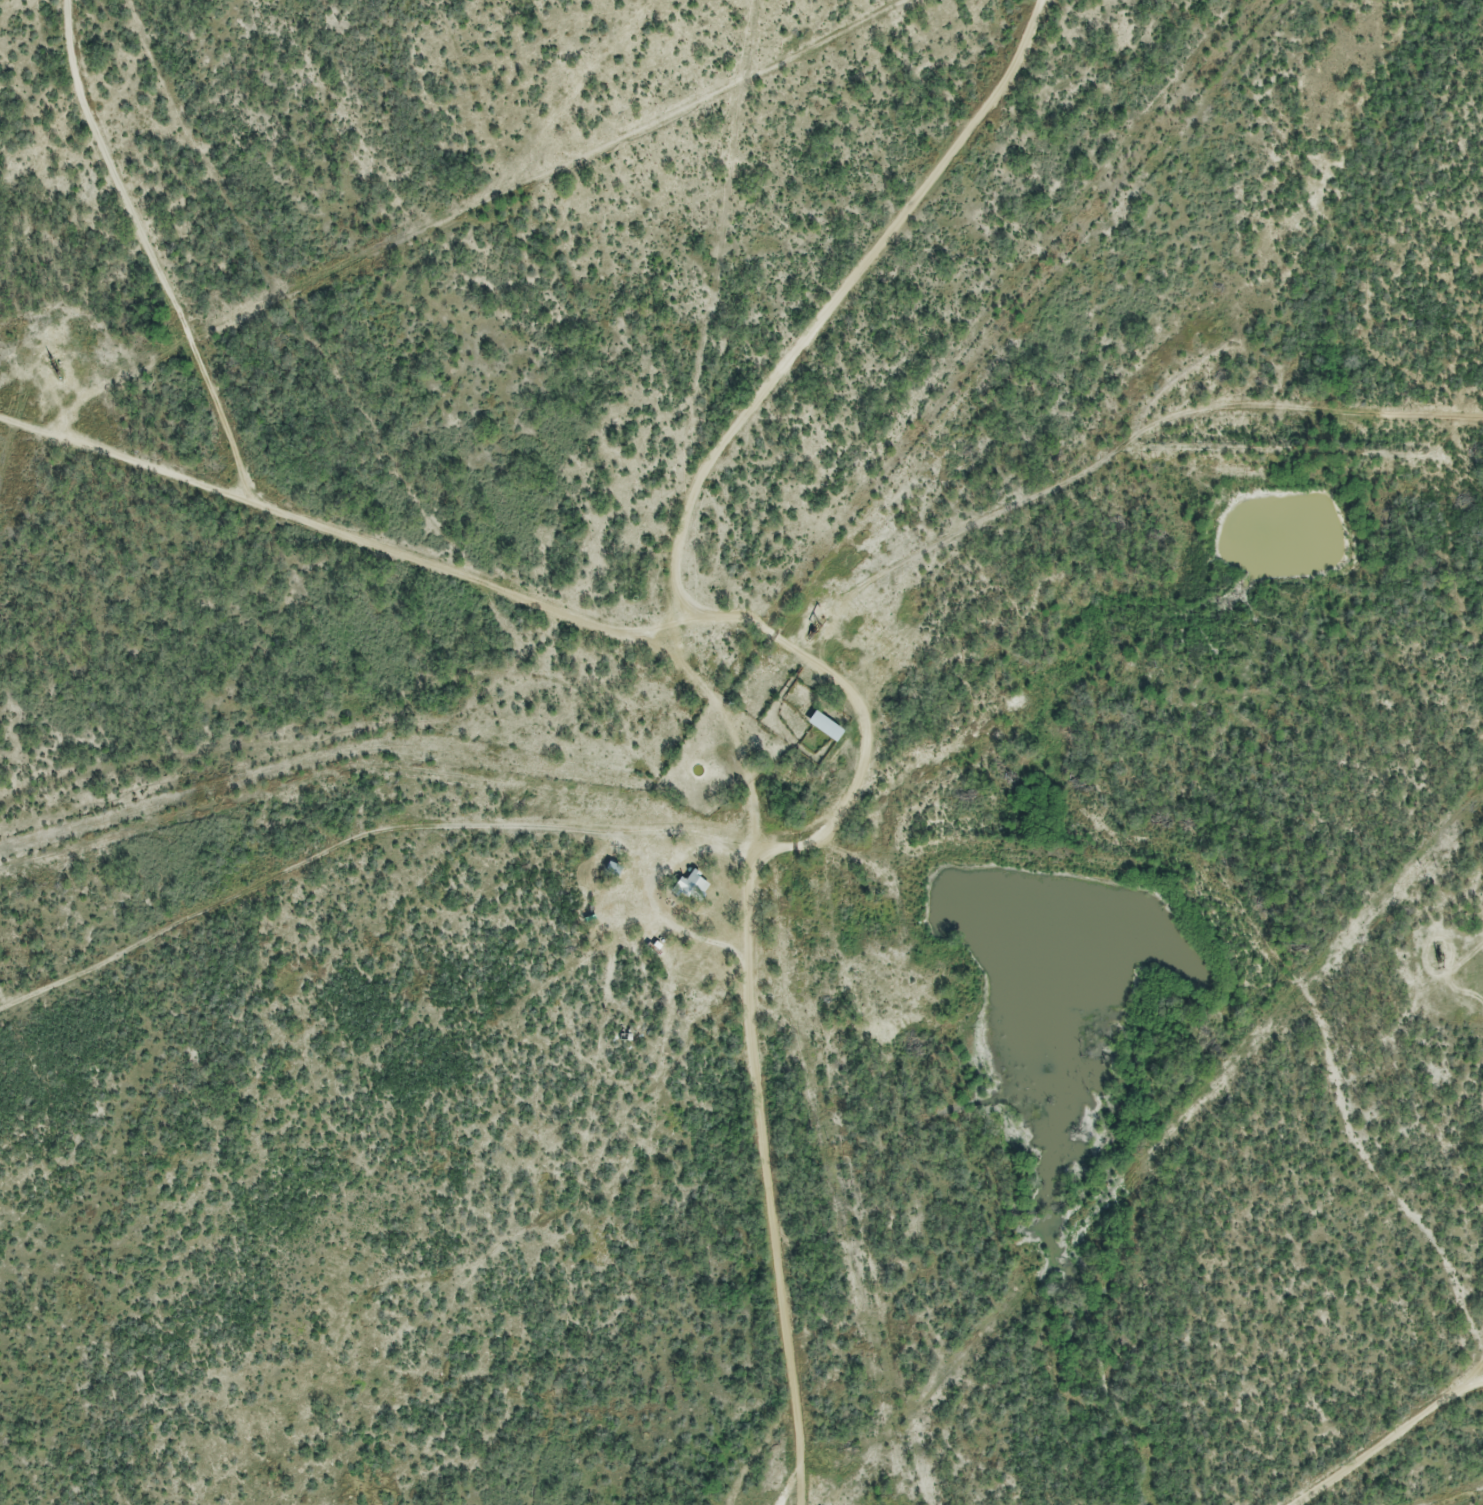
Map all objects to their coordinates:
building: (825, 724)
building: (693, 885)

